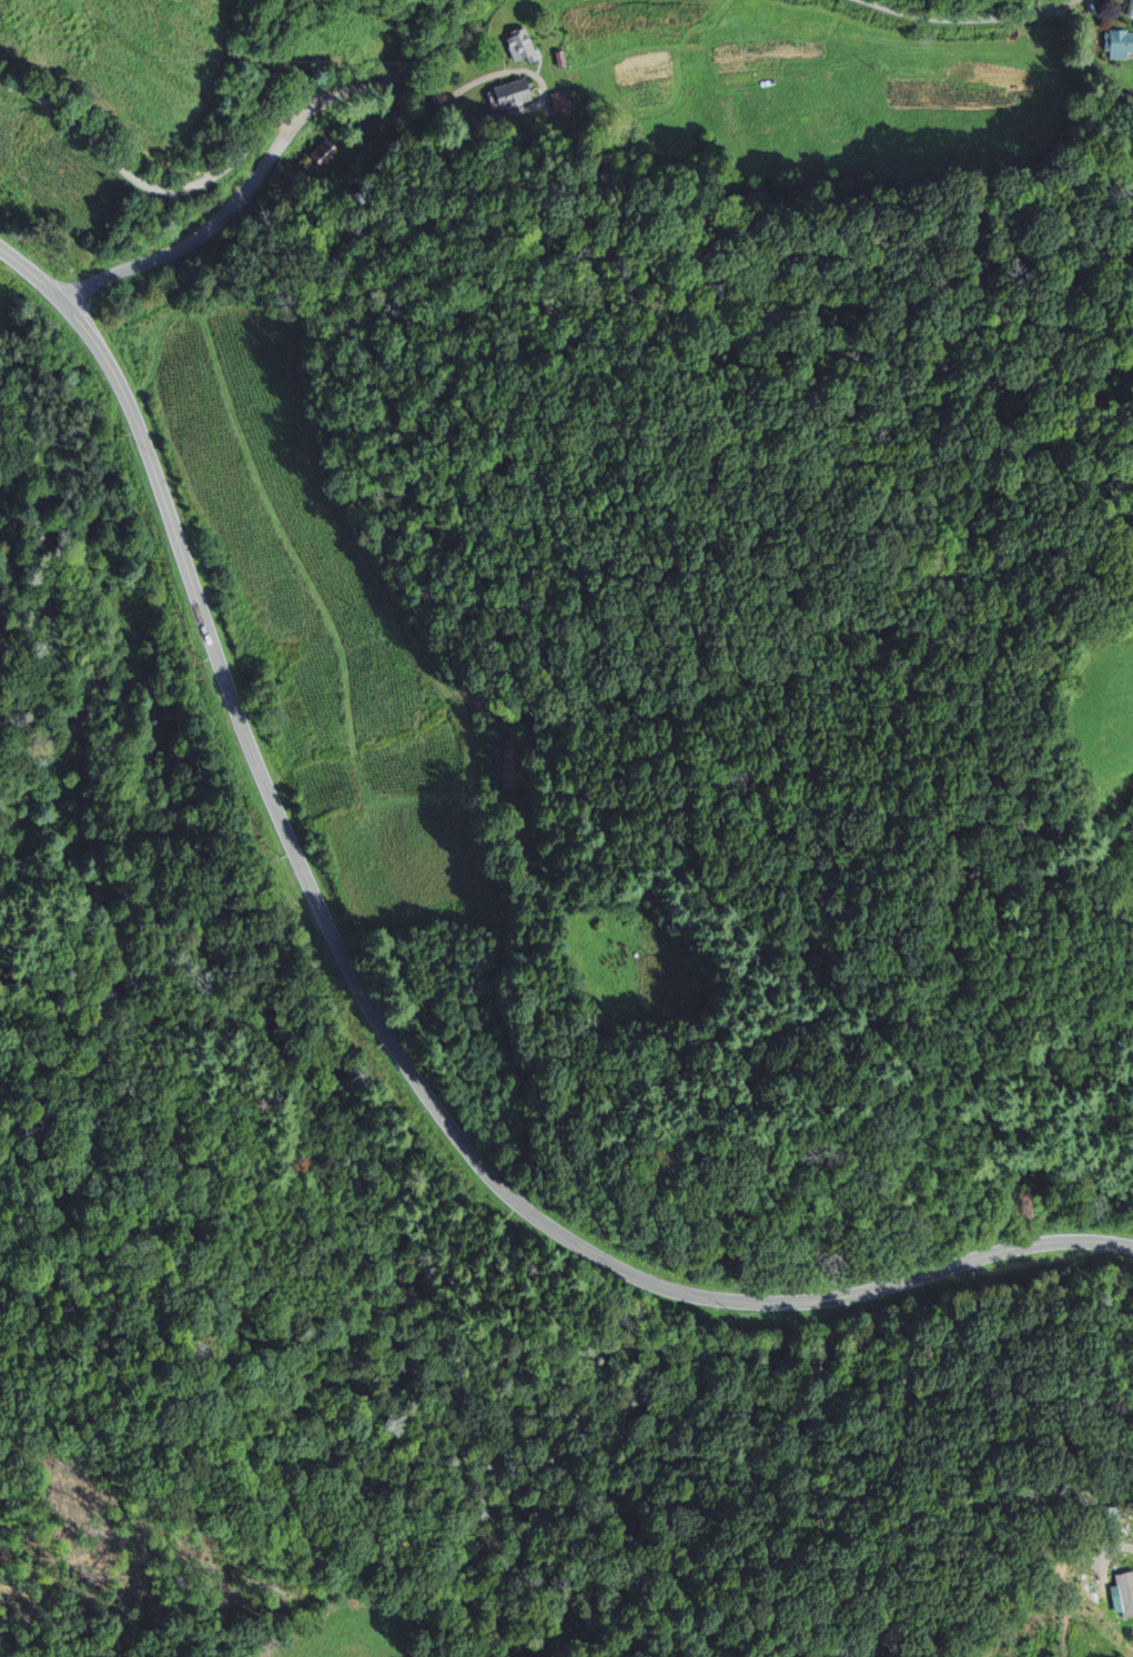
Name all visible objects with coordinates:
road: (963, 21)
building: (1123, 46)
building: (523, 47)
road: (403, 71)
building: (514, 95)
road: (150, 186)
road: (203, 235)
road: (378, 1024)
road: (1104, 1550)

